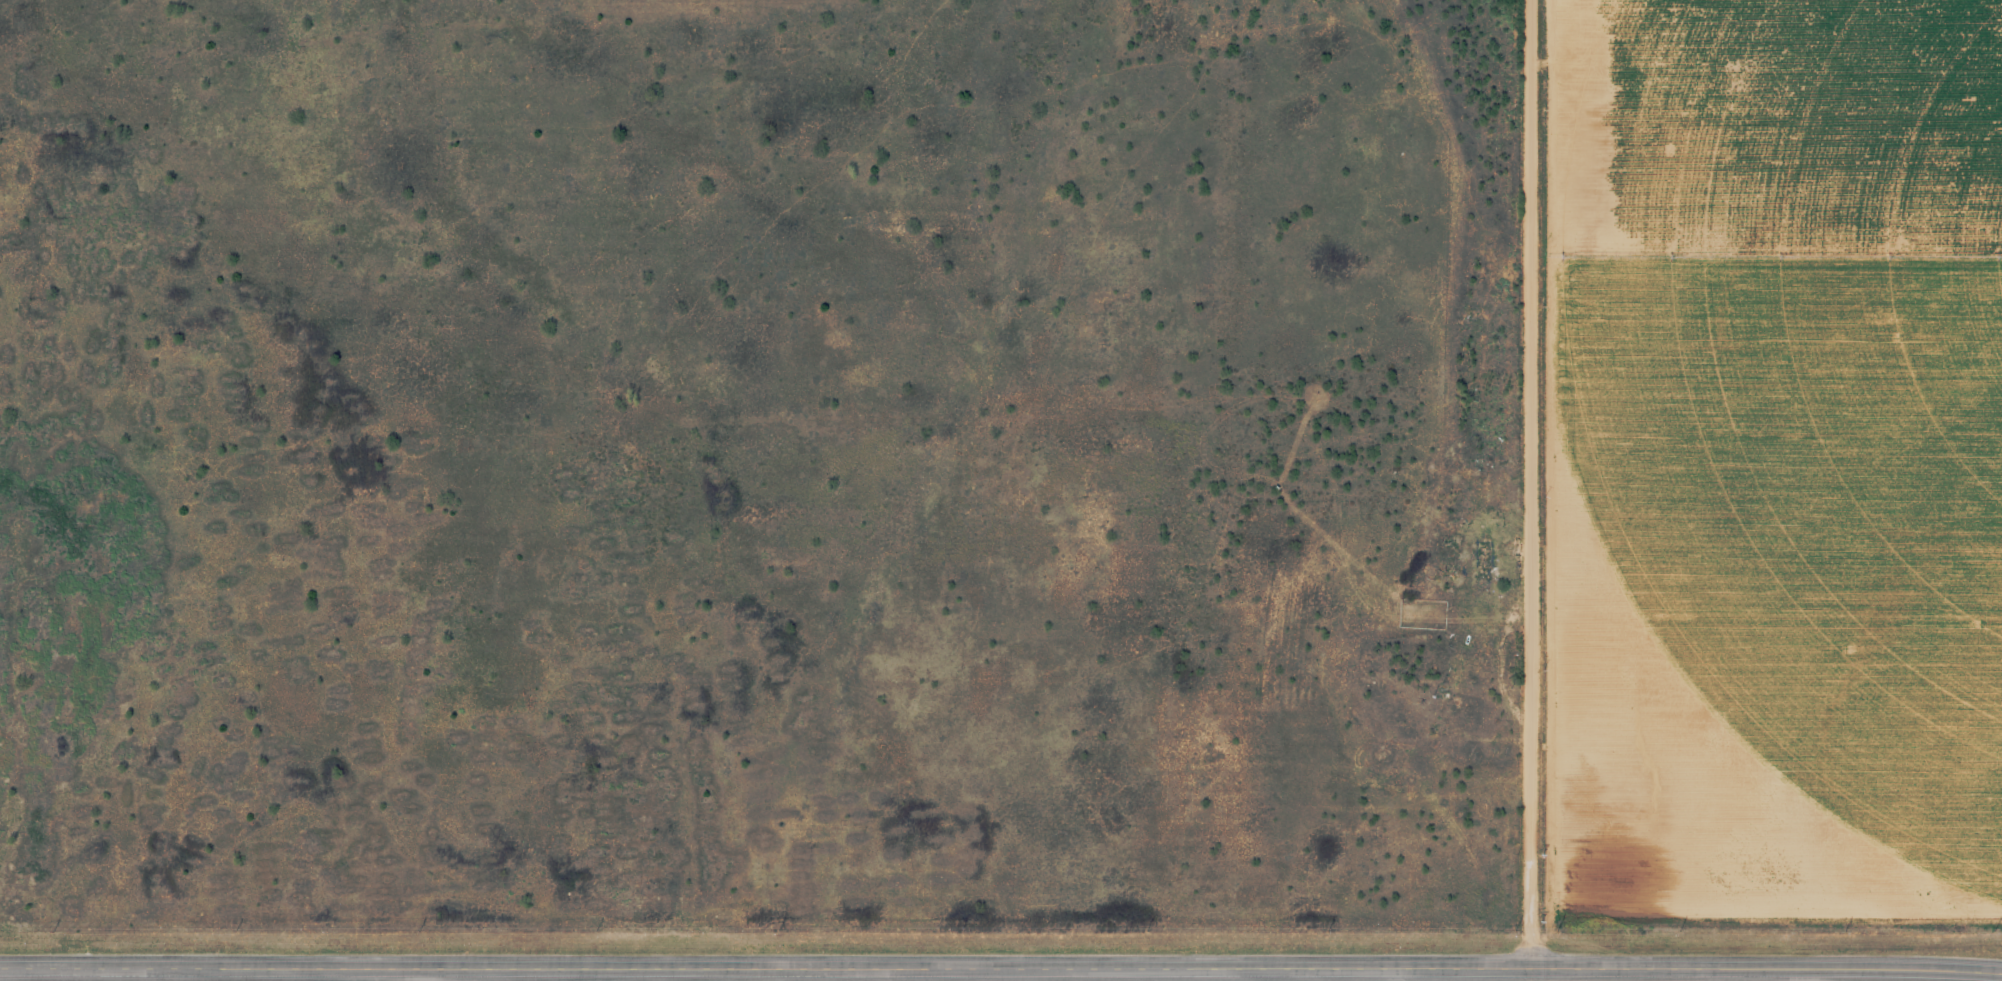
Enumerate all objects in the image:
road: (1536, 483)
building: (1481, 562)
road: (1001, 967)

